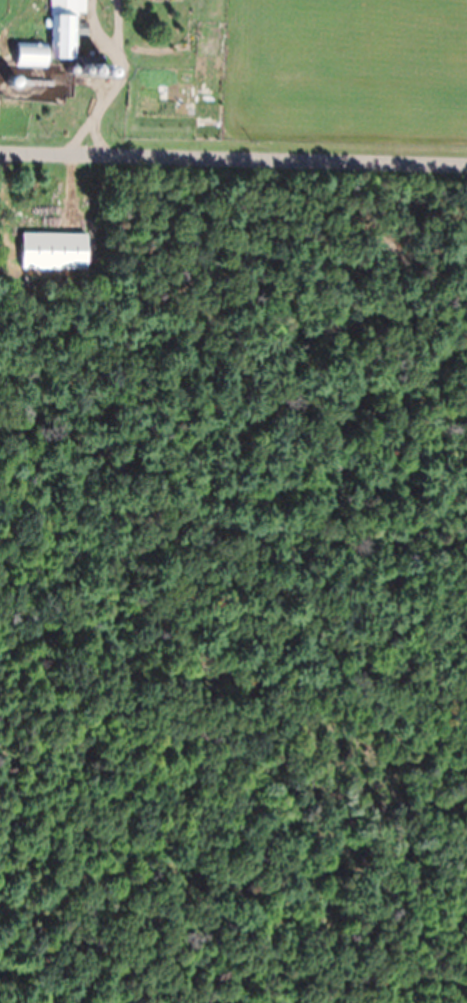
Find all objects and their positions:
building: (66, 27)
building: (33, 55)
road: (233, 134)
building: (53, 252)

